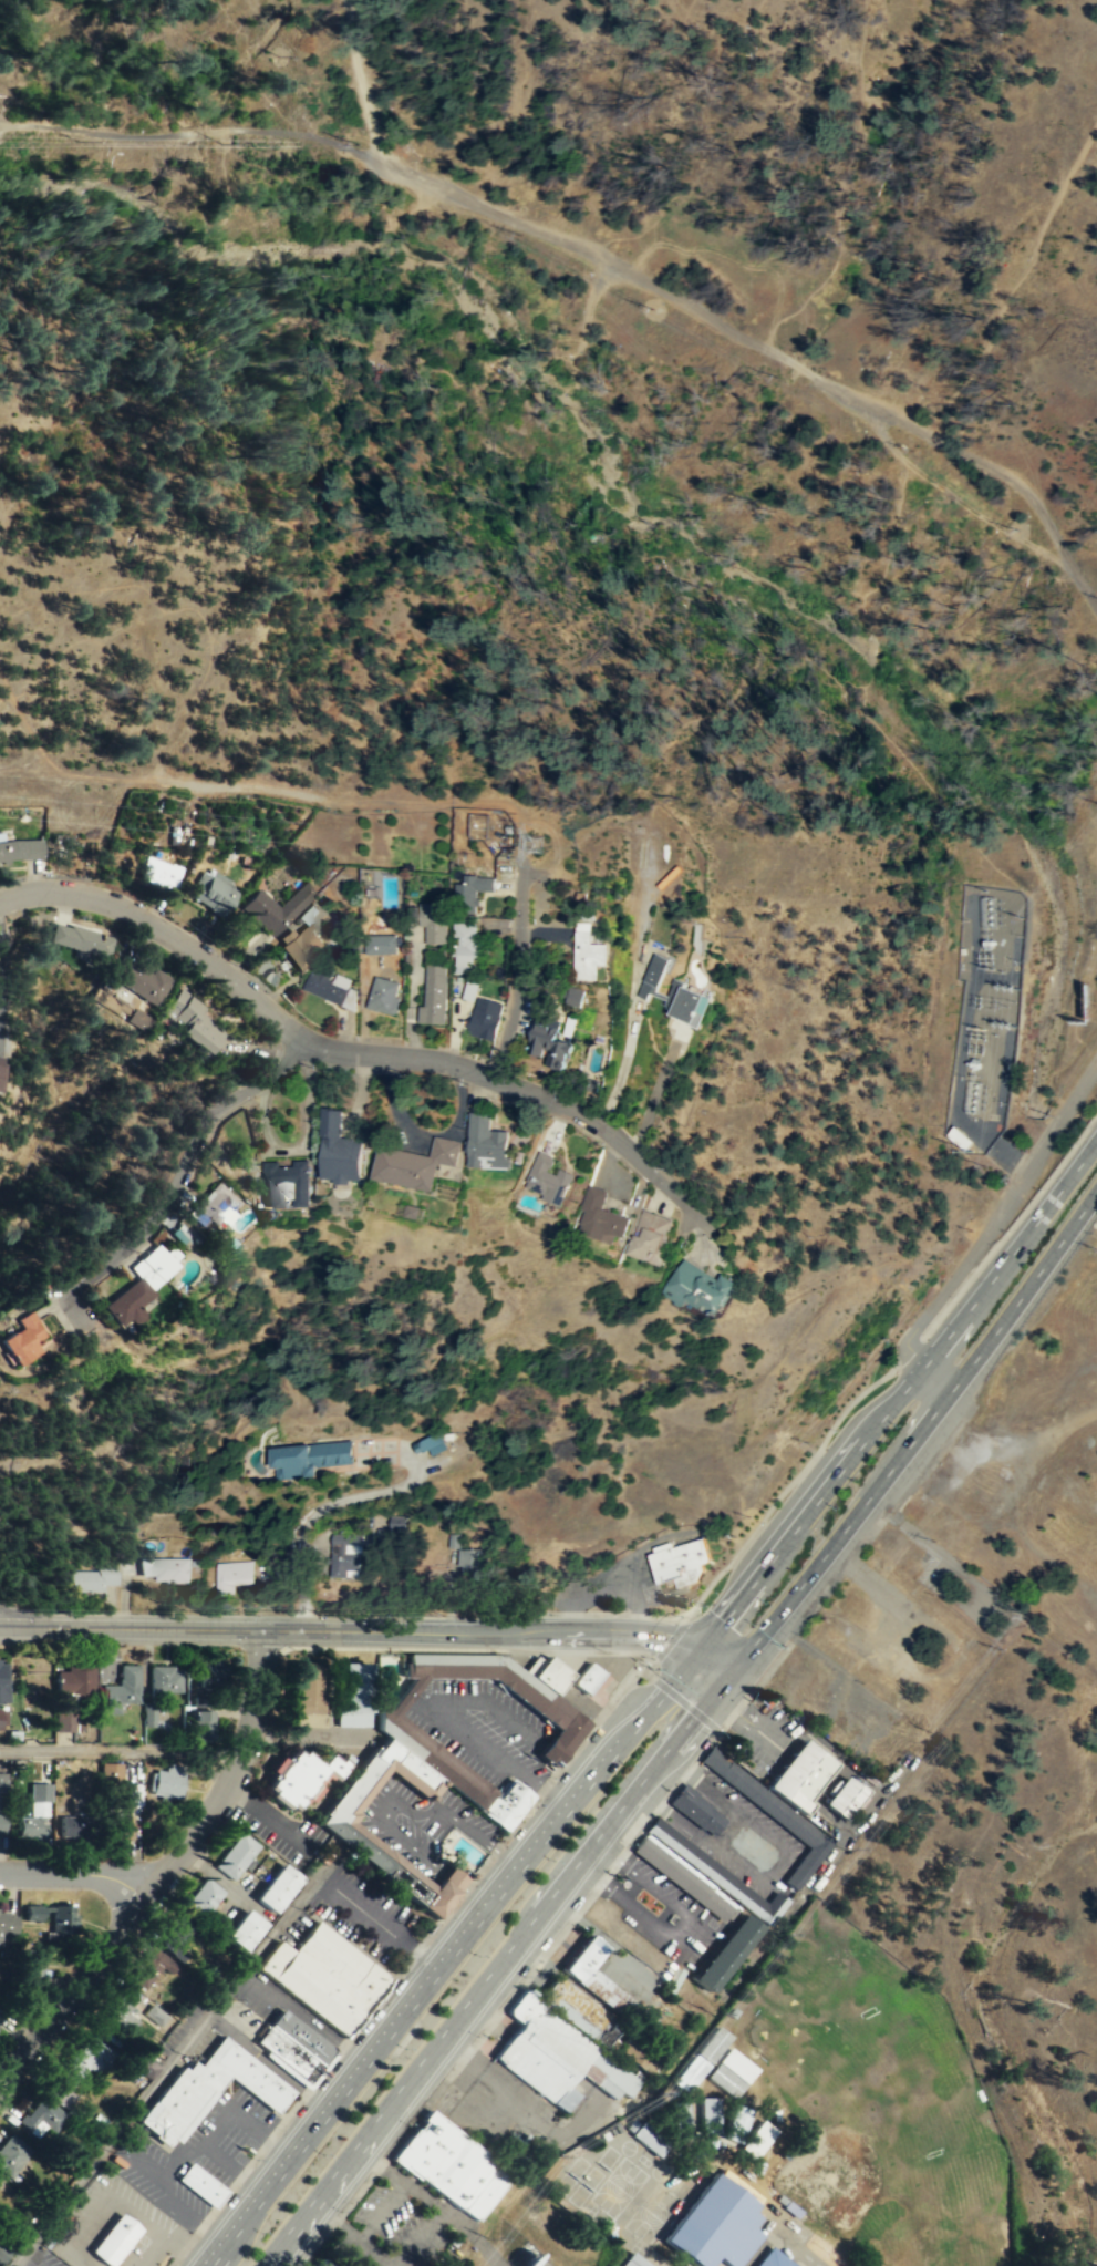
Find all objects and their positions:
road: (1088, 39)
road: (358, 79)
road: (1065, 90)
road: (7, 132)
road: (190, 132)
road: (1016, 280)
road: (587, 307)
road: (765, 348)
road: (898, 512)
road: (255, 789)
road: (964, 836)
power tower: (535, 843)
building: (19, 847)
building: (158, 872)
building: (210, 893)
building: (470, 893)
building: (273, 907)
street lamp: (161, 909)
building: (433, 924)
building: (82, 939)
building: (383, 943)
building: (299, 946)
building: (463, 946)
building: (588, 952)
road: (518, 968)
building: (655, 974)
building: (143, 980)
building: (327, 985)
building: (383, 995)
building: (434, 995)
building: (576, 996)
building: (684, 1003)
power substation: (984, 1013)
building: (193, 1018)
building: (485, 1018)
building: (549, 1040)
road: (353, 1051)
building: (1, 1067)
street lamp: (319, 1069)
street lamp: (467, 1083)
street lamp: (561, 1092)
building: (956, 1137)
building: (487, 1142)
road: (304, 1145)
building: (338, 1149)
road: (1082, 1155)
building: (414, 1163)
street lamp: (664, 1167)
building: (549, 1178)
road: (176, 1180)
road: (1095, 1192)
building: (301, 1193)
building: (216, 1205)
building: (601, 1215)
road: (1011, 1224)
road: (985, 1232)
building: (180, 1233)
building: (648, 1235)
building: (143, 1283)
building: (696, 1285)
building: (21, 1338)
road: (908, 1350)
street lamp: (834, 1429)
road: (918, 1432)
building: (430, 1442)
road: (944, 1442)
road: (989, 1452)
building: (306, 1456)
road: (783, 1487)
road: (314, 1511)
street lamp: (762, 1522)
building: (395, 1523)
building: (375, 1535)
building: (452, 1539)
building: (341, 1553)
building: (467, 1559)
building: (679, 1561)
building: (164, 1567)
building: (231, 1574)
building: (92, 1576)
road: (607, 1584)
street lamp: (766, 1600)
street lamp: (704, 1604)
street lamp: (54, 1609)
street lamp: (245, 1611)
street lamp: (444, 1613)
road: (7, 1621)
road: (370, 1629)
road: (667, 1638)
street lamp: (785, 1646)
road: (615, 1652)
street lamp: (651, 1666)
building: (547, 1671)
building: (214, 1675)
building: (586, 1677)
building: (163, 1678)
building: (75, 1680)
building: (301, 1681)
building: (2, 1682)
building: (352, 1682)
building: (120, 1688)
building: (147, 1712)
road: (593, 1716)
building: (1, 1718)
building: (66, 1718)
road: (444, 1718)
road: (637, 1723)
building: (201, 1726)
parking lot: (480, 1728)
building: (400, 1731)
street lamp: (713, 1735)
road: (772, 1739)
road: (121, 1750)
building: (108, 1770)
building: (297, 1770)
building: (797, 1774)
park: (1013, 1774)
street lamp: (555, 1776)
road: (433, 1779)
building: (167, 1780)
building: (1, 1783)
building: (844, 1796)
building: (506, 1804)
road: (406, 1807)
building: (694, 1807)
building: (770, 1814)
road: (268, 1816)
building: (331, 1817)
building: (1, 1821)
parking lot: (417, 1823)
building: (68, 1824)
building: (30, 1825)
building: (115, 1827)
street lamp: (630, 1842)
road: (749, 1848)
building: (232, 1852)
road: (163, 1871)
road: (74, 1872)
building: (717, 1873)
building: (680, 1876)
street lamp: (475, 1878)
building: (273, 1884)
road: (465, 1887)
building: (200, 1894)
building: (436, 1897)
building: (31, 1909)
parking lot: (362, 1910)
building: (61, 1917)
building: (7, 1922)
road: (381, 1923)
building: (178, 1926)
building: (240, 1926)
road: (689, 1936)
building: (0, 1940)
building: (726, 1951)
road: (496, 1961)
building: (151, 1966)
building: (23, 1969)
street lamp: (404, 1969)
building: (324, 1975)
street lamp: (524, 1975)
building: (597, 1977)
parking lot: (261, 1994)
building: (573, 2006)
building: (120, 2009)
building: (154, 2012)
building: (1, 2013)
road: (307, 2021)
street lamp: (478, 2033)
building: (292, 2043)
building: (637, 2051)
building: (556, 2054)
building: (85, 2058)
building: (702, 2058)
building: (146, 2066)
building: (731, 2072)
street lamp: (323, 2076)
building: (207, 2088)
building: (59, 2090)
building: (41, 2113)
building: (708, 2114)
building: (680, 2119)
street lamp: (408, 2122)
building: (734, 2122)
building: (649, 2138)
building: (755, 2138)
road: (187, 2150)
building: (11, 2153)
parking lot: (194, 2153)
street lamp: (256, 2157)
building: (449, 2163)
road: (143, 2164)
road: (376, 2164)
road: (231, 2165)
building: (199, 2184)
park: (617, 2186)
road: (421, 2194)
street lamp: (341, 2208)
park: (651, 2213)
road: (332, 2221)
building: (711, 2225)
road: (470, 2234)
building: (114, 2238)
building: (2, 2250)
road: (371, 2253)
building: (770, 2258)
building: (632, 2260)
building: (323, 2263)
street lamp: (172, 2264)

